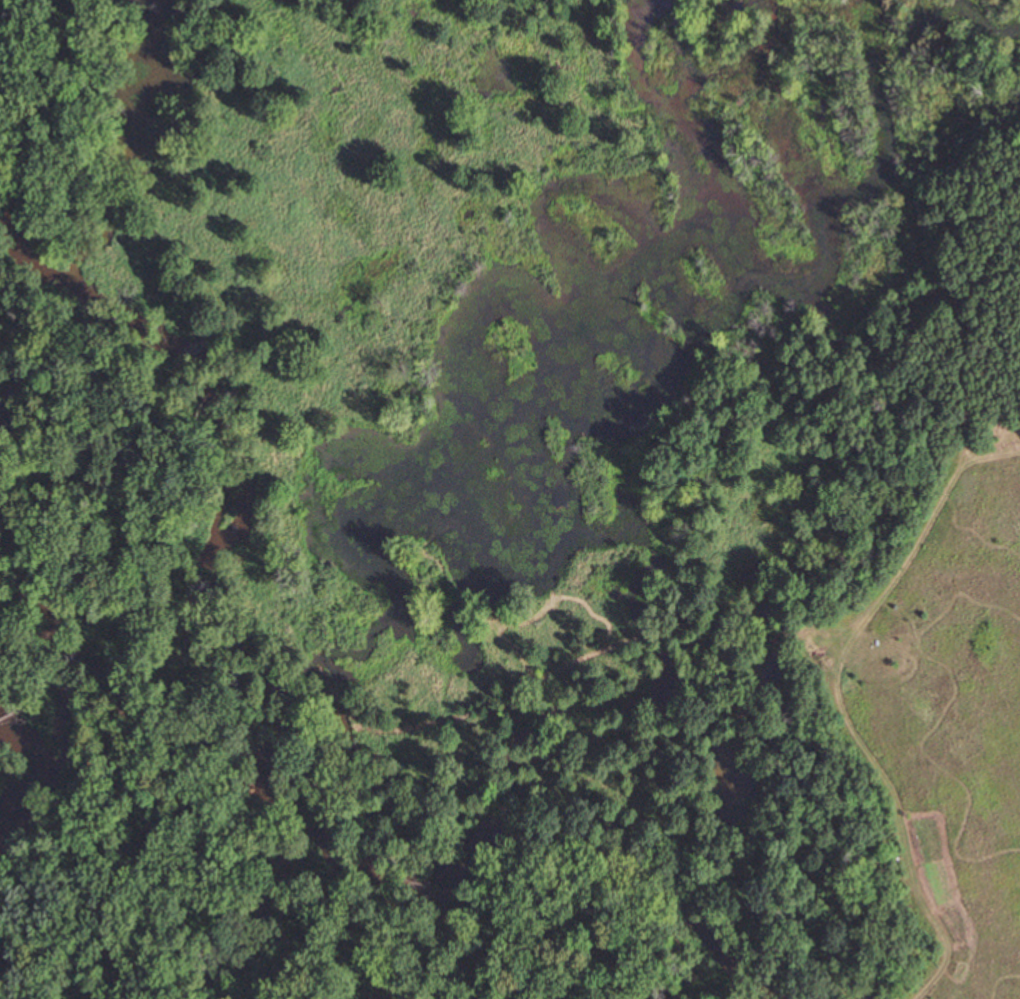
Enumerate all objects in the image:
crop: (953, 729)

